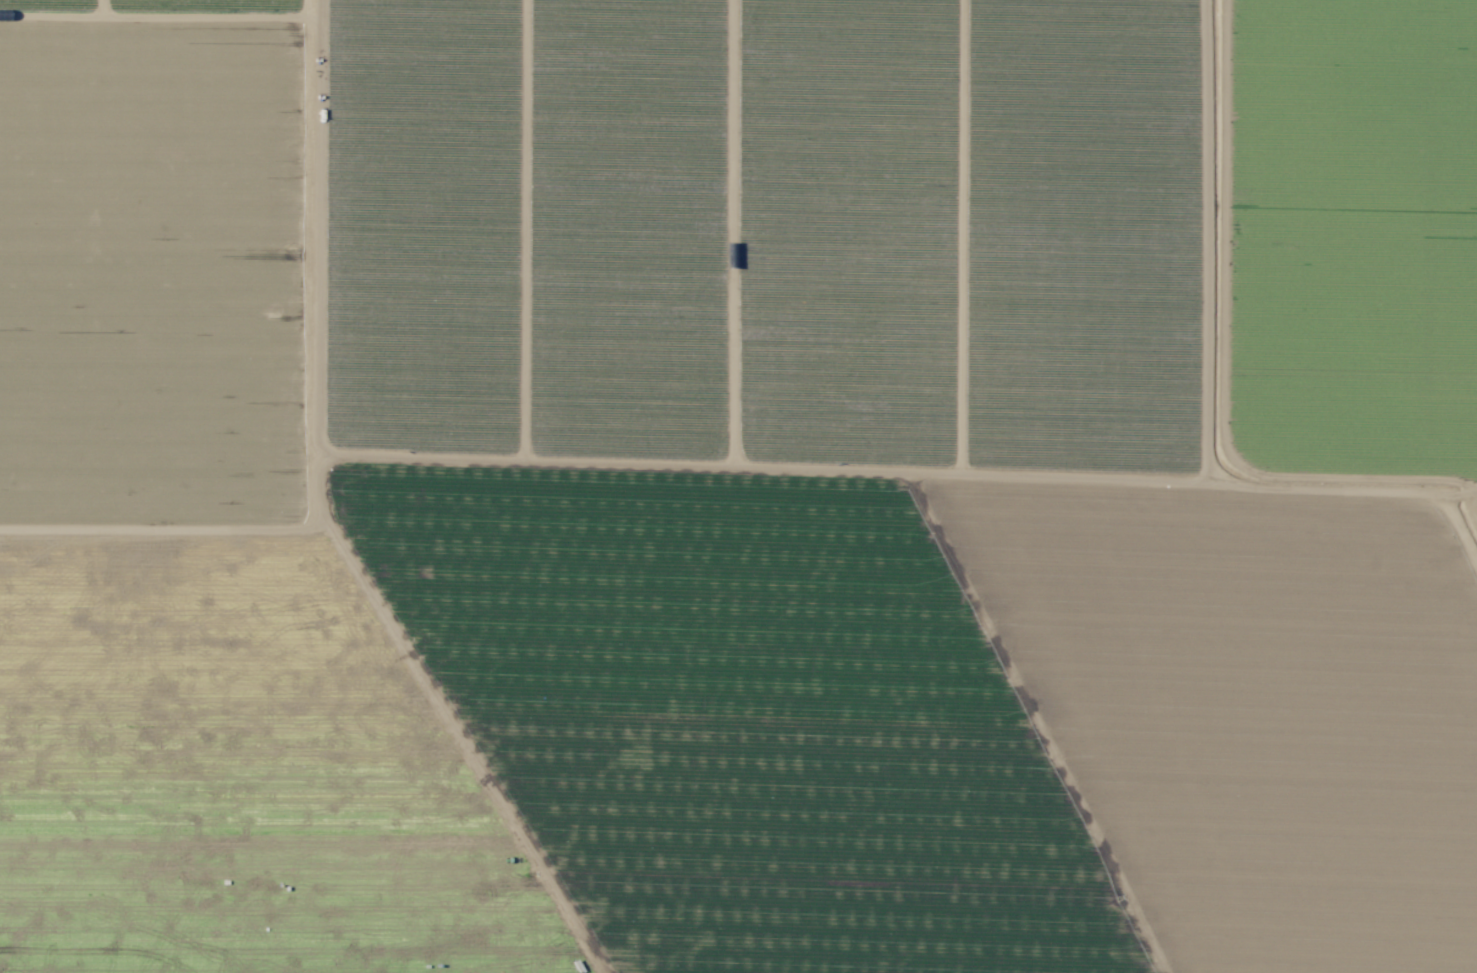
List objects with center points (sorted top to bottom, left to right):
crop: (738, 486)

